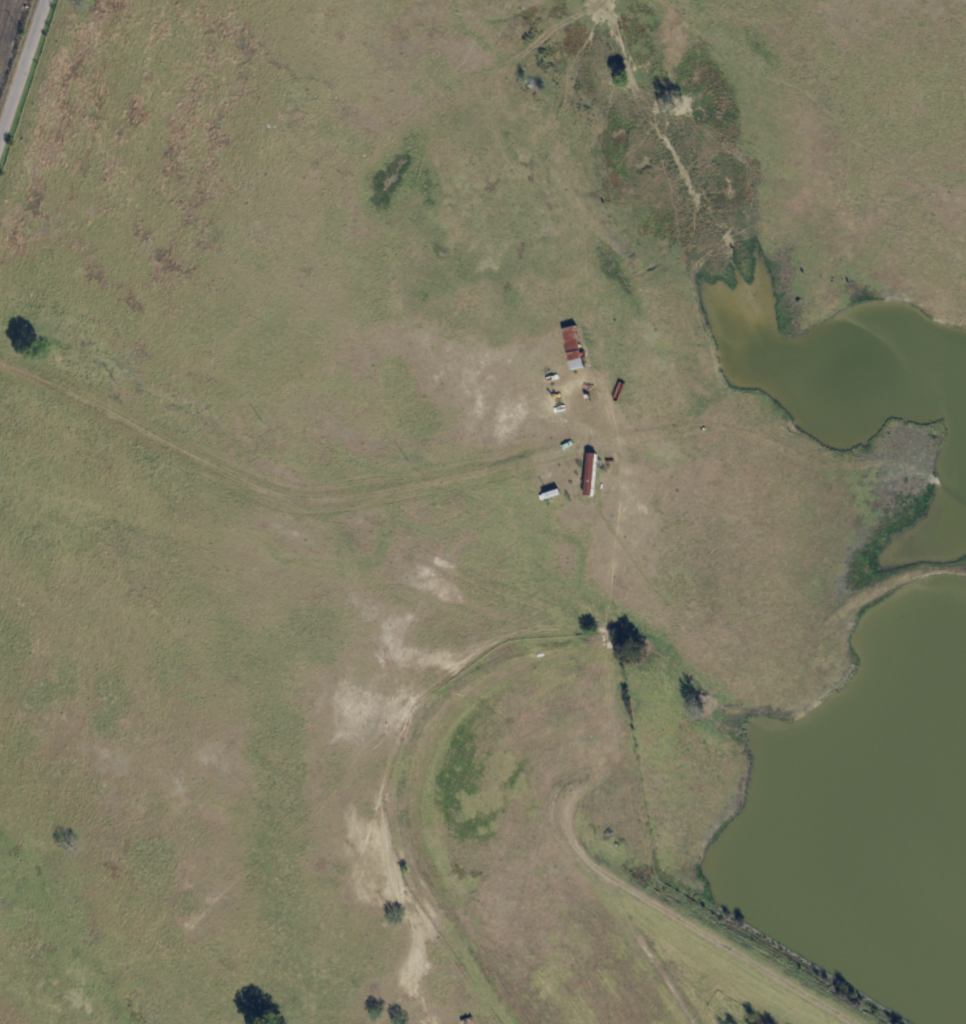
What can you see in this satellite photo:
road: (22, 70)
building: (574, 346)
building: (591, 473)

